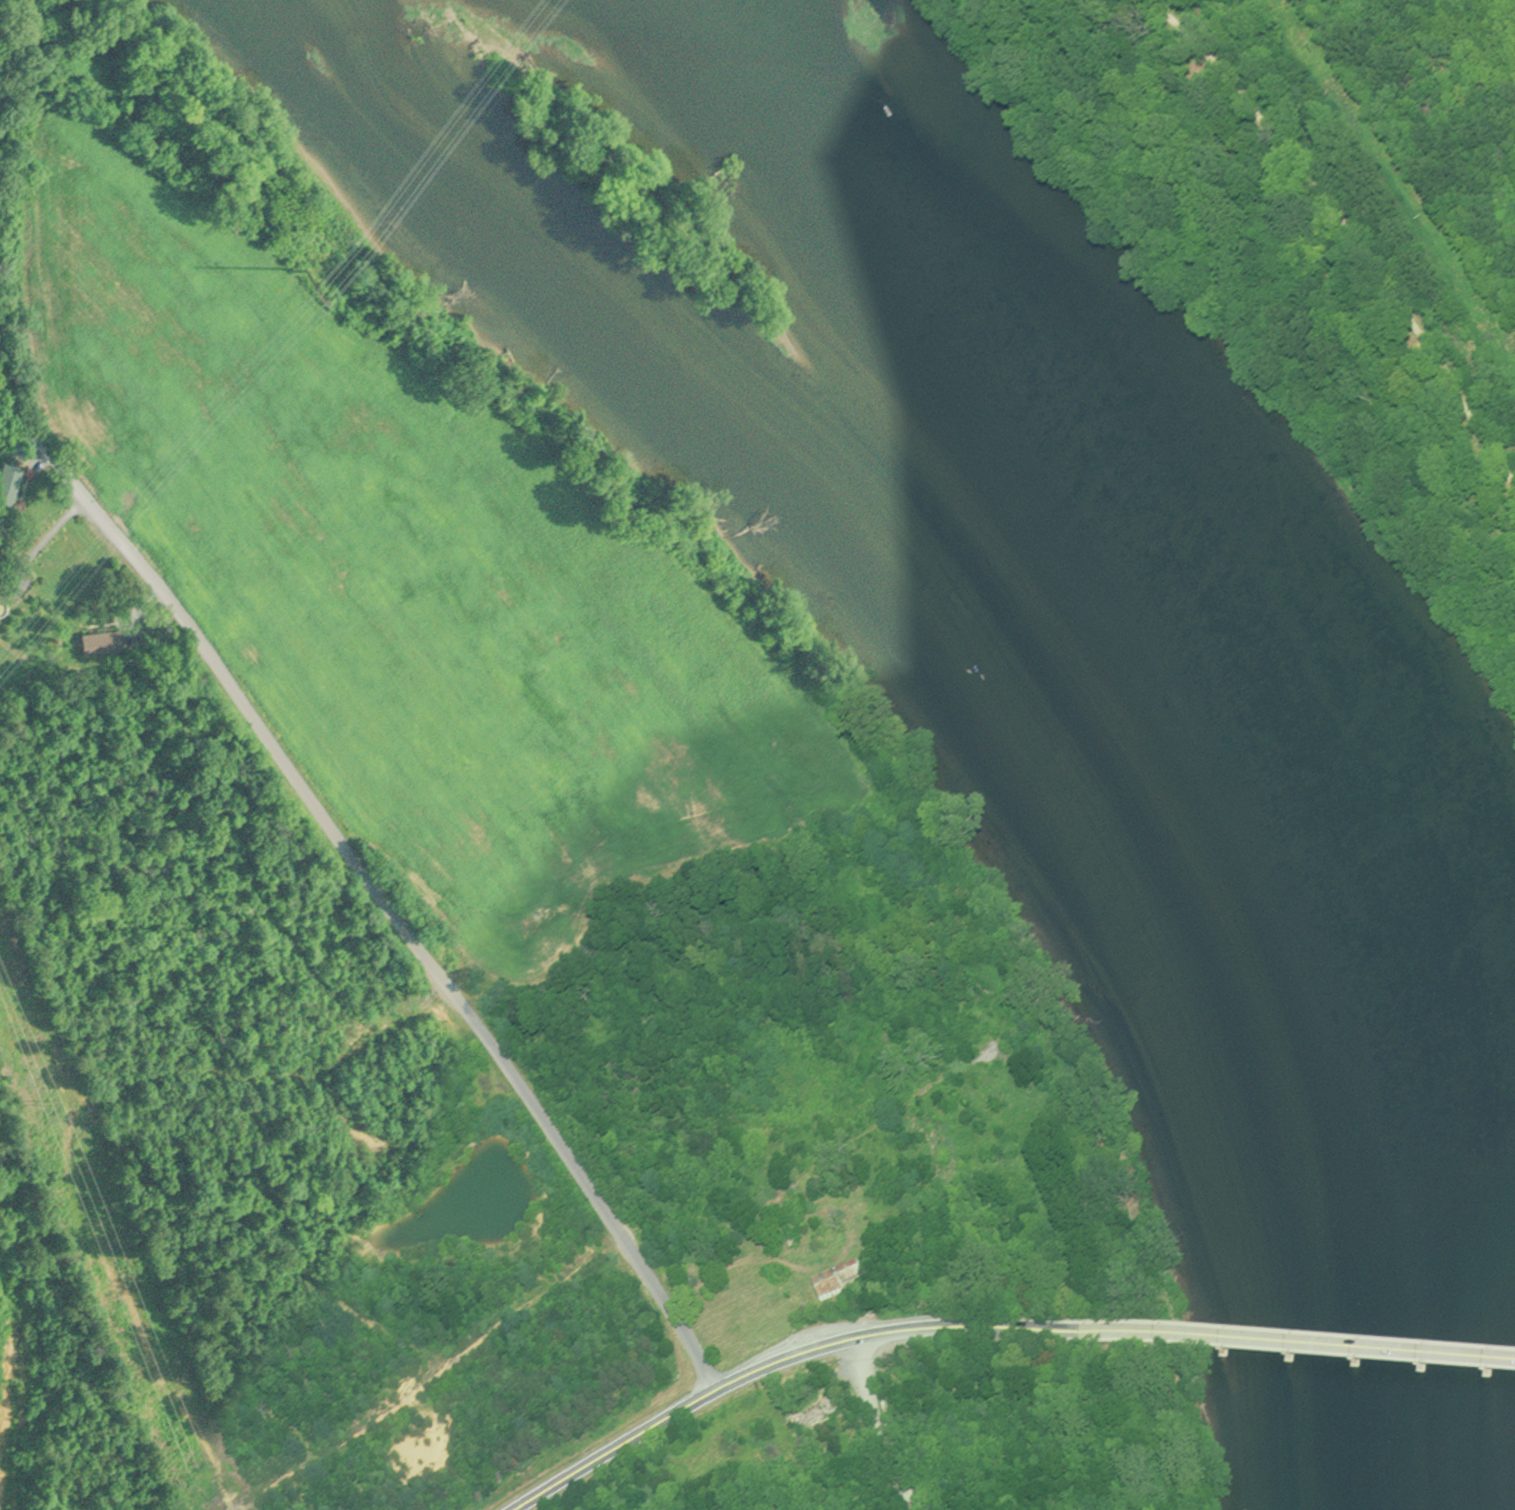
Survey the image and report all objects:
road: (1346, 231)
power tower: (306, 270)
building: (13, 480)
road: (44, 536)
building: (1, 589)
building: (109, 641)
river: (1157, 720)
road: (370, 880)
power tower: (48, 1101)
river: (1476, 1242)
building: (845, 1280)
road: (1295, 1349)
road: (775, 1361)
building: (903, 1406)
building: (821, 1409)
road: (881, 1425)

